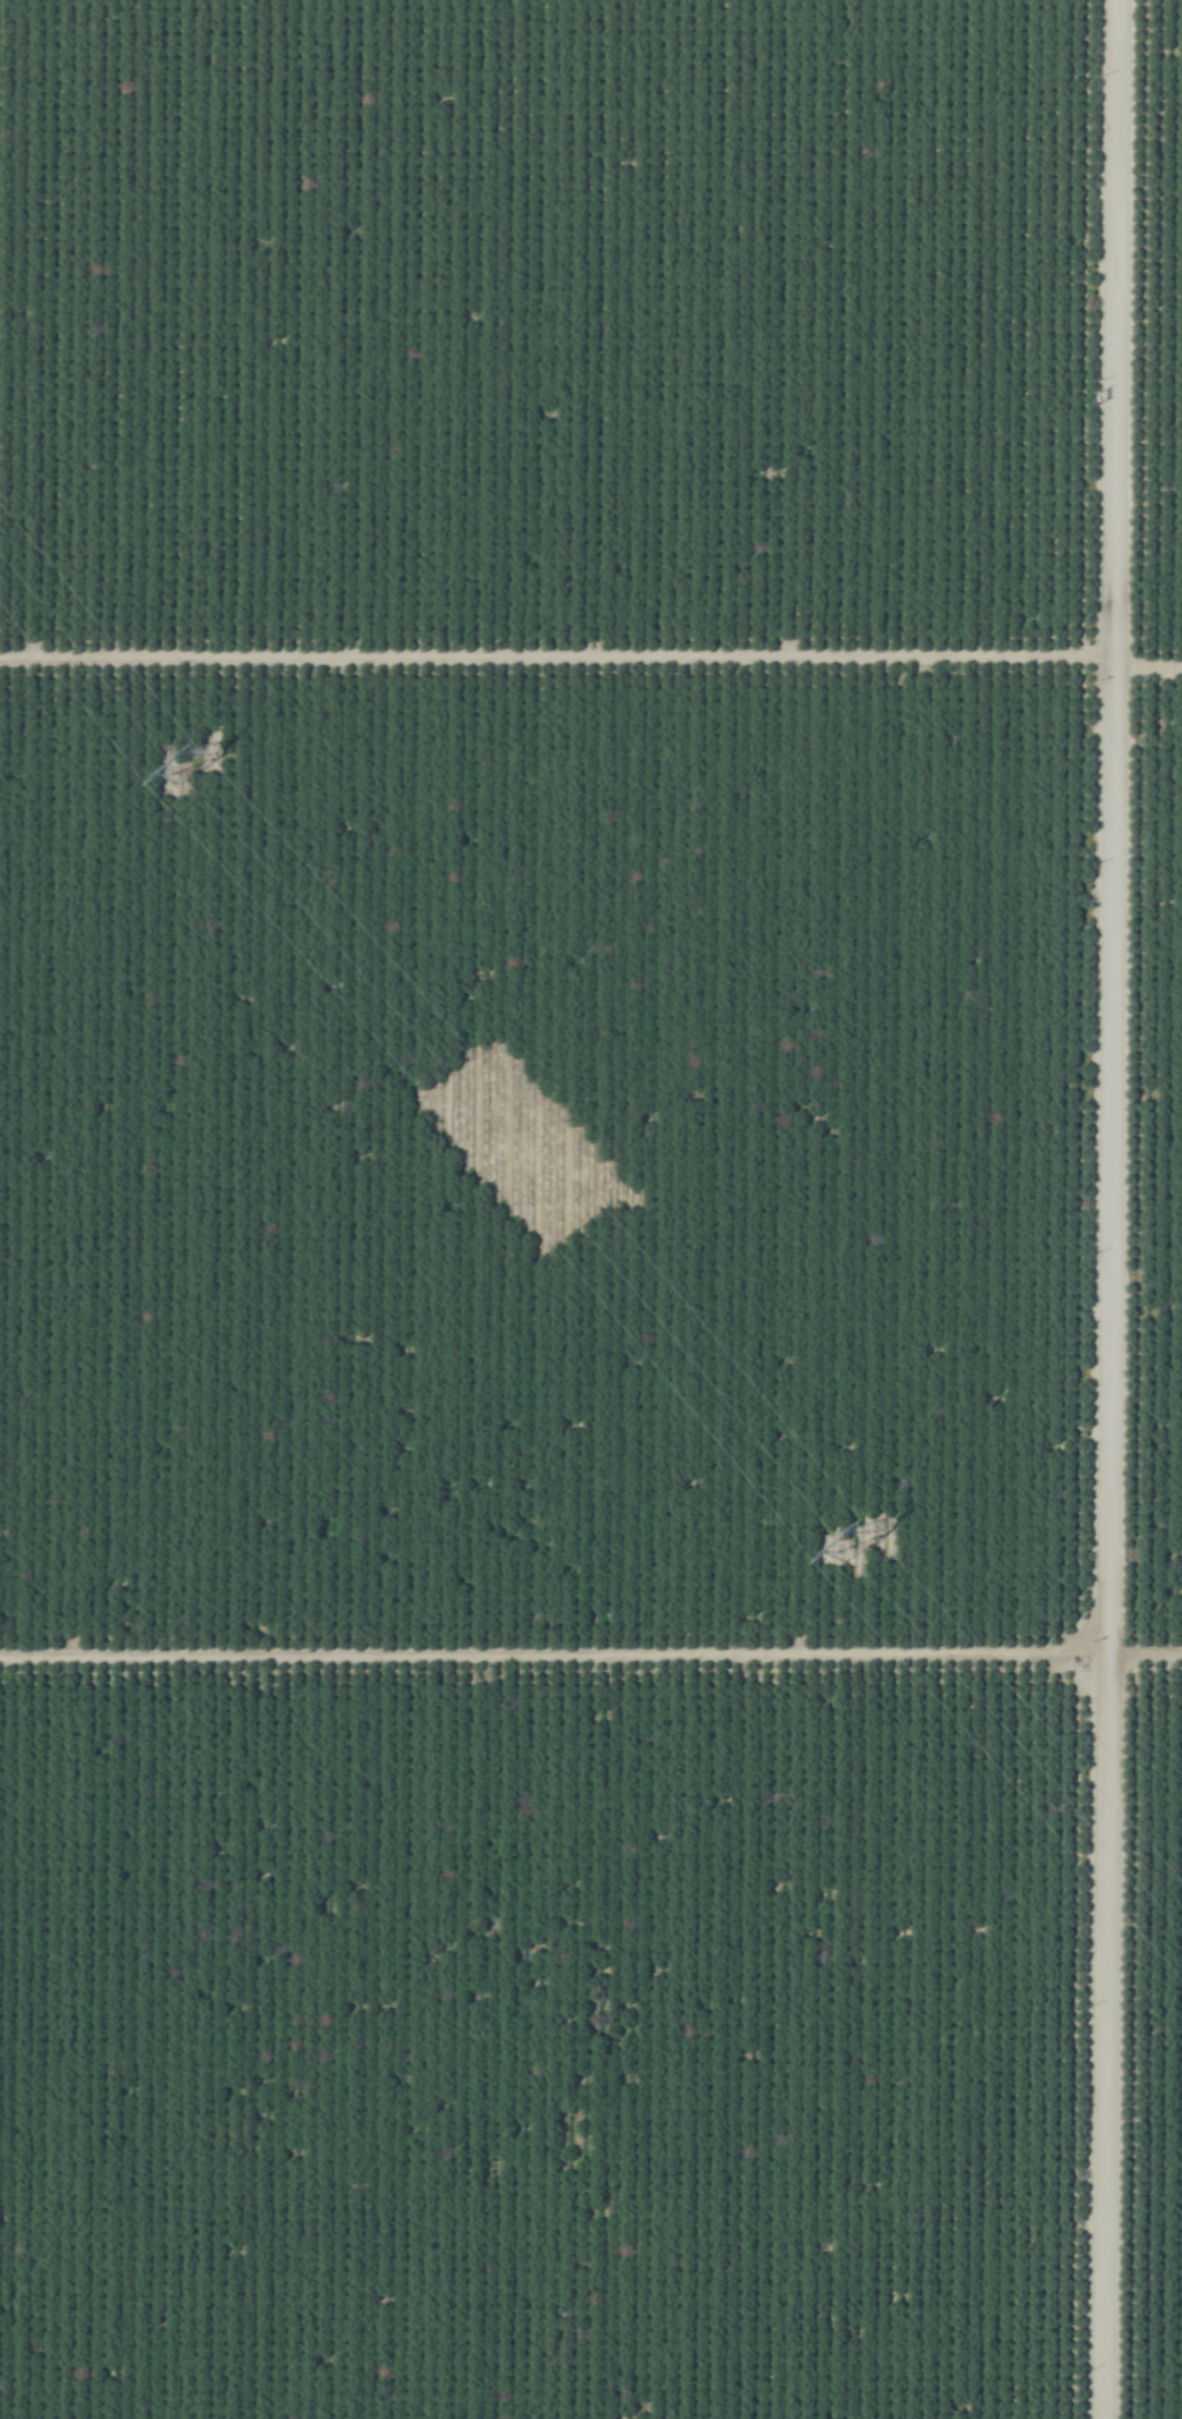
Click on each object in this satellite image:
power tower: (196, 755)
road: (1107, 1209)
power tower: (877, 1554)

